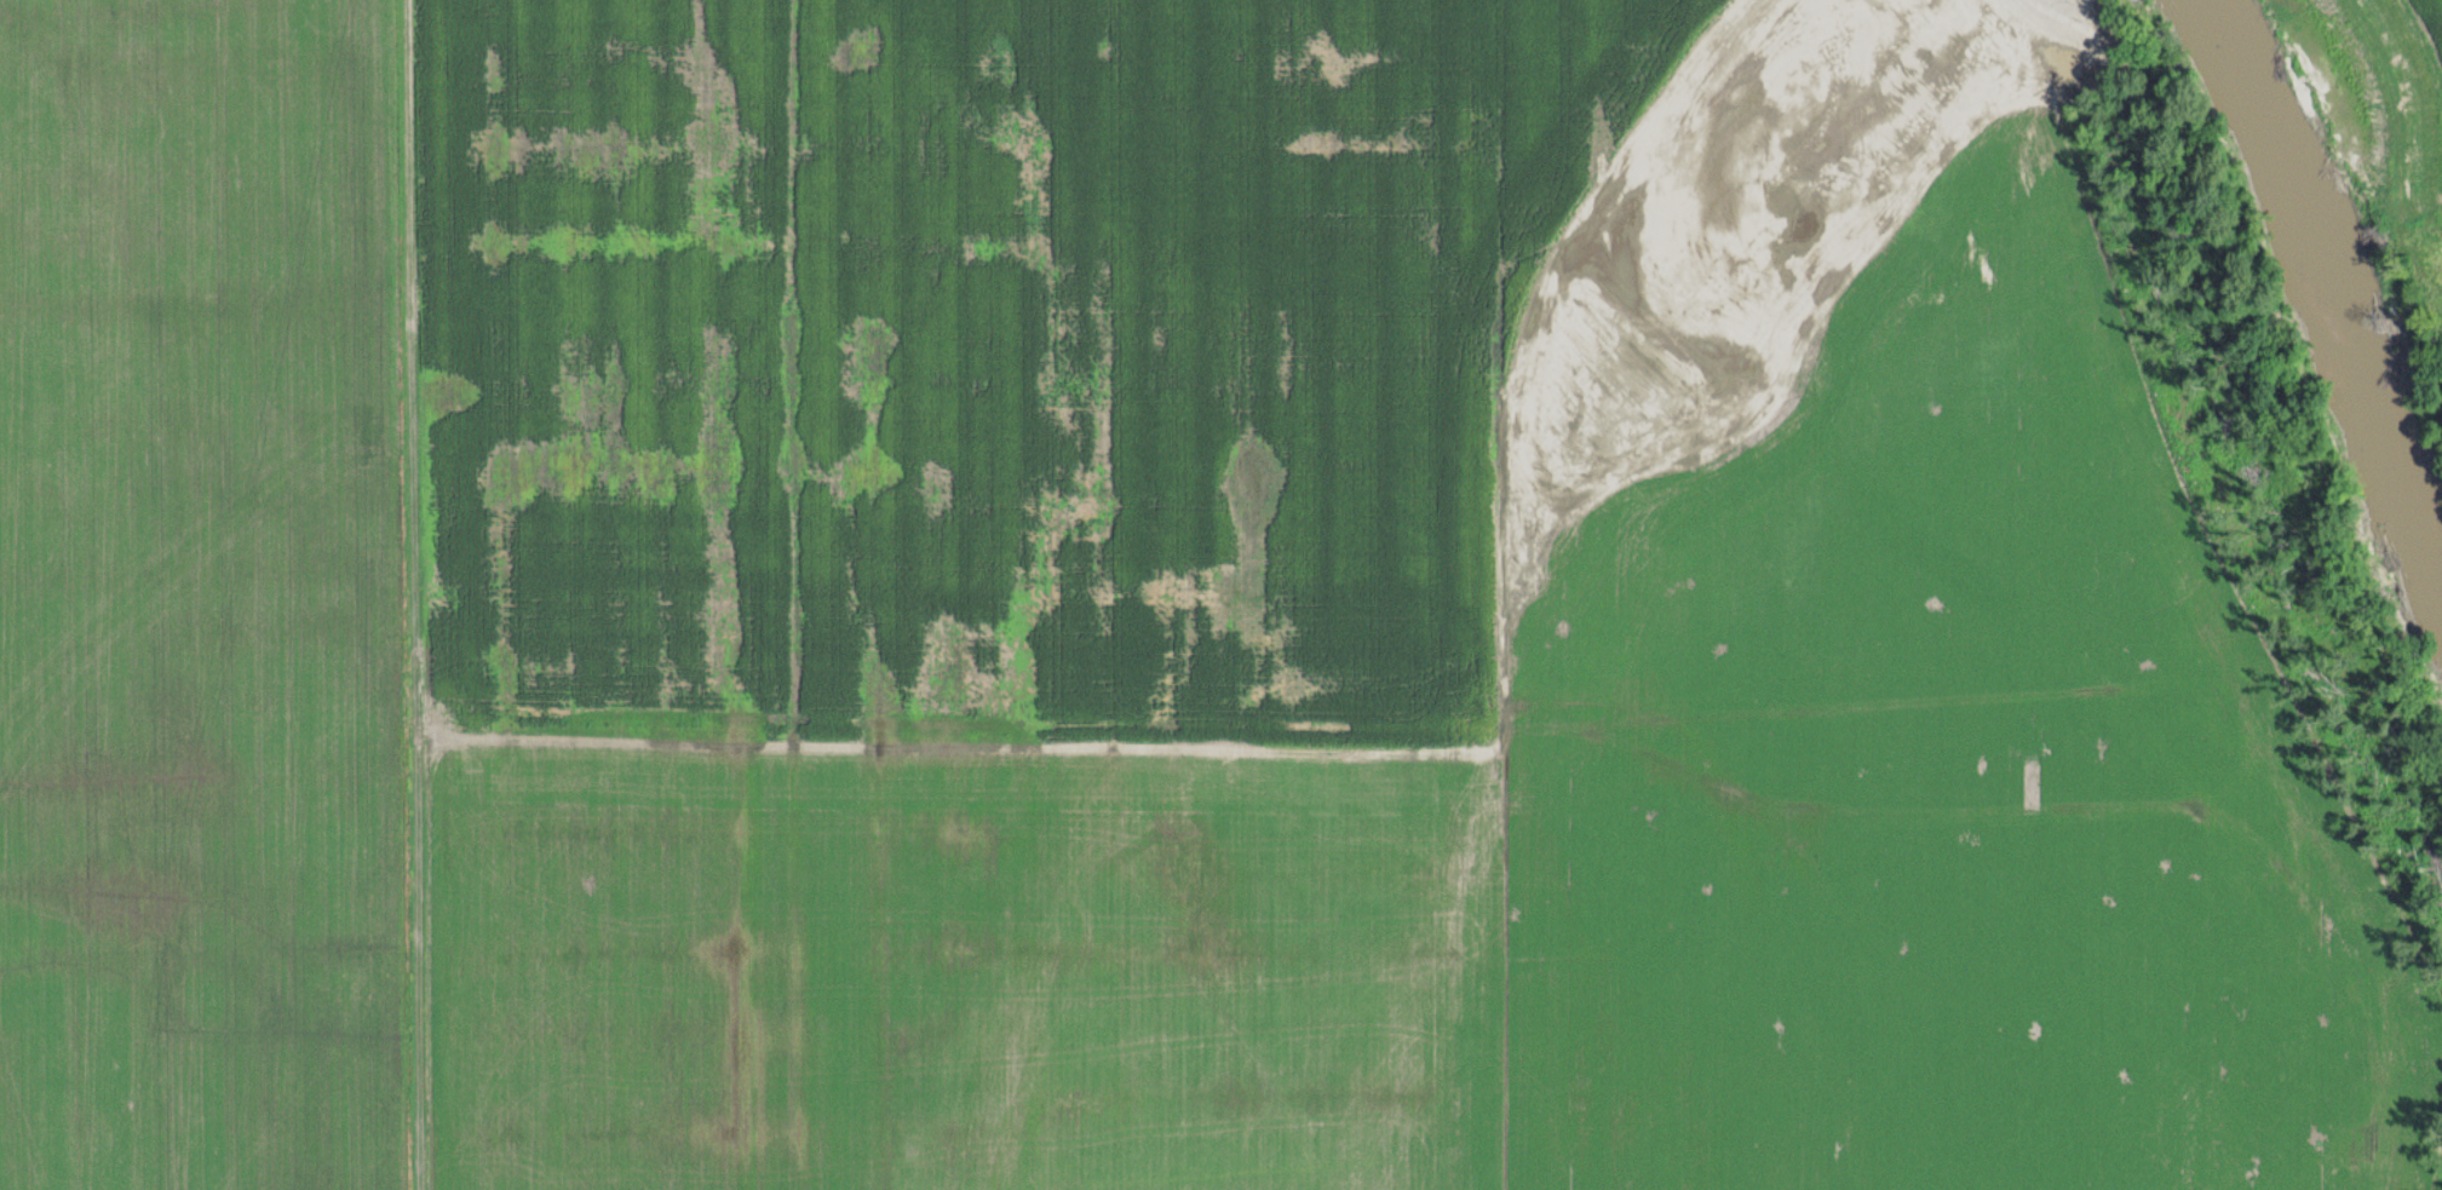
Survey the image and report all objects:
river: (2320, 271)

